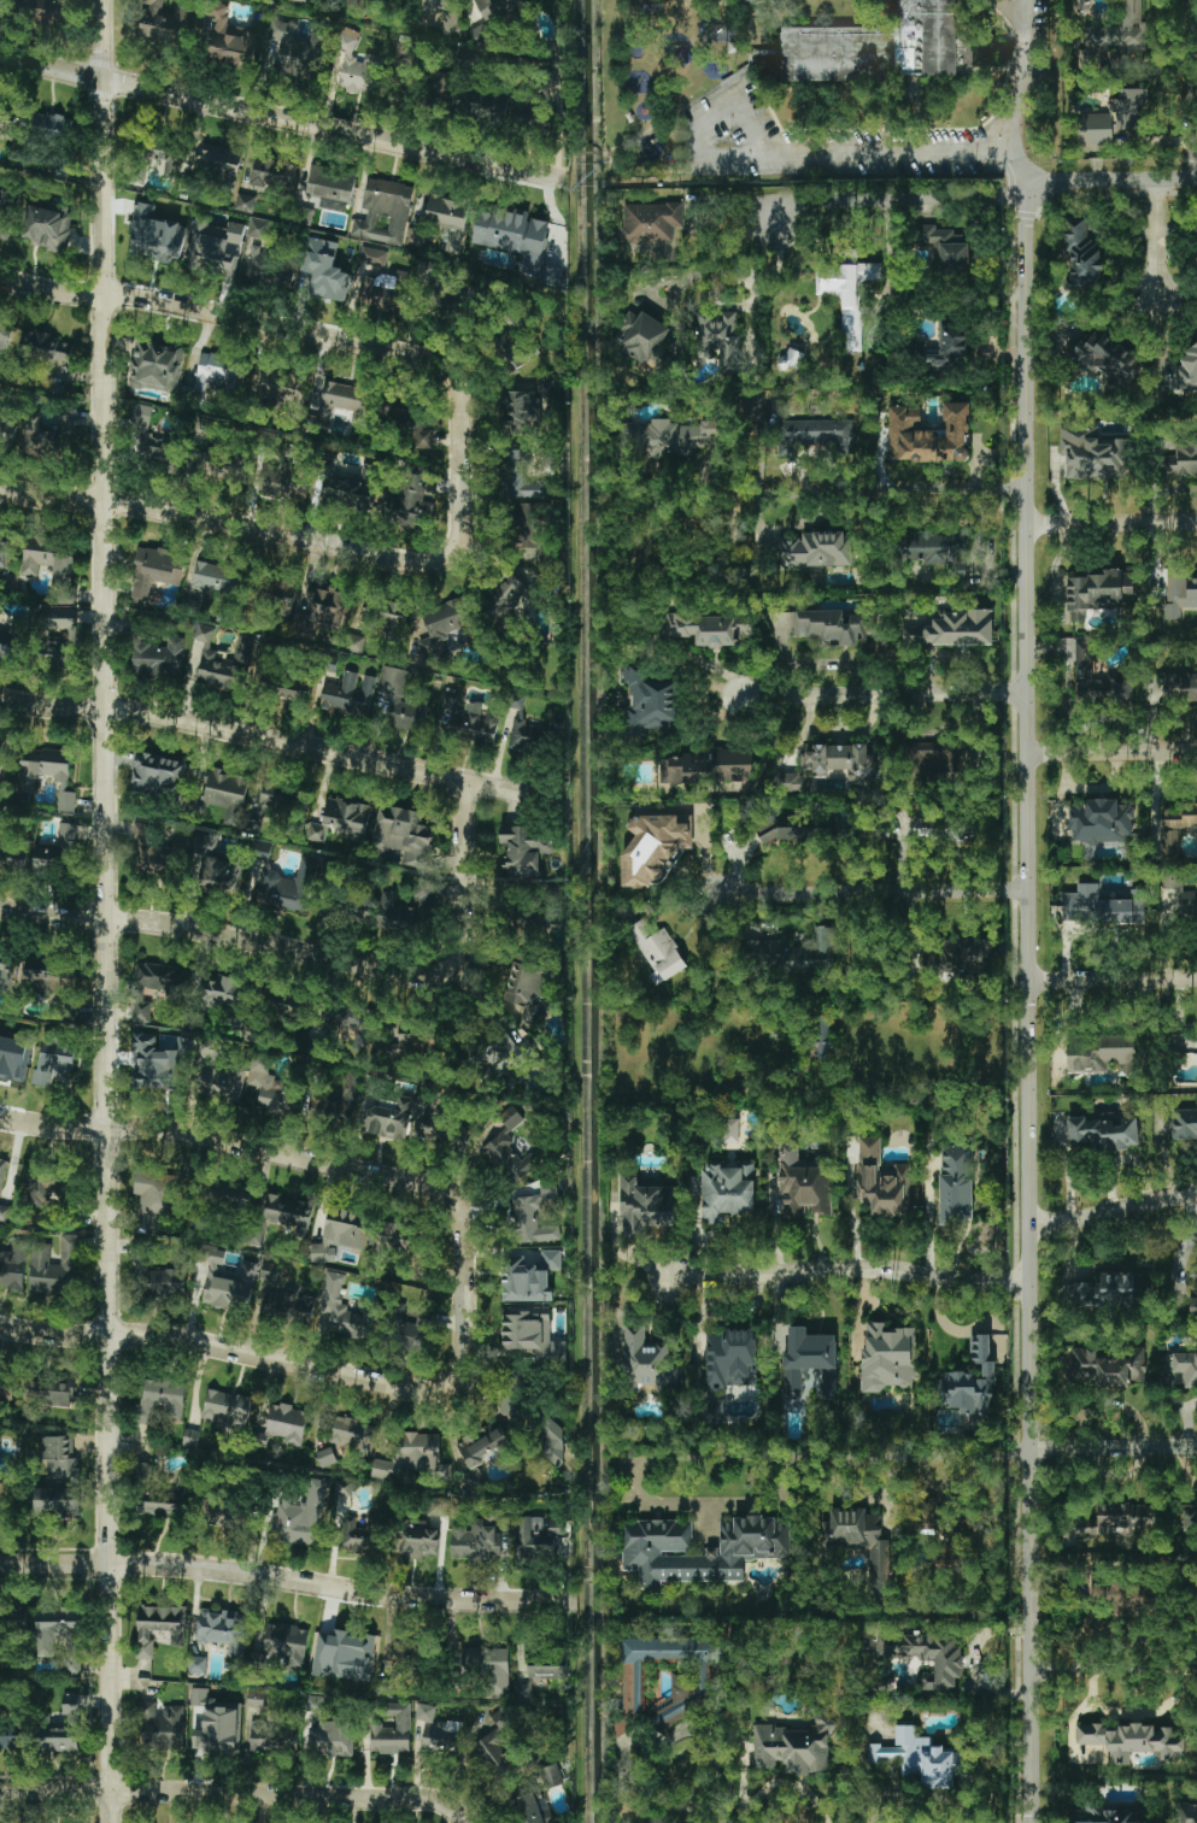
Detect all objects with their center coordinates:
building: (300, 0)
building: (756, 2)
building: (41, 8)
building: (441, 11)
road: (1011, 16)
building: (491, 17)
building: (159, 23)
building: (1115, 34)
building: (229, 42)
building: (894, 47)
building: (298, 52)
building: (362, 73)
road: (1023, 75)
road: (1191, 88)
building: (487, 102)
building: (1129, 110)
building: (523, 114)
building: (6, 116)
road: (278, 116)
building: (47, 124)
building: (1096, 129)
road: (803, 154)
building: (164, 157)
building: (264, 174)
road: (1110, 180)
building: (329, 182)
road: (898, 193)
building: (243, 202)
building: (385, 211)
building: (5, 213)
building: (448, 219)
building: (651, 222)
building: (47, 224)
building: (258, 229)
building: (156, 235)
building: (416, 236)
building: (516, 239)
road: (1160, 239)
building: (216, 246)
building: (943, 248)
building: (1081, 257)
building: (371, 258)
road: (715, 260)
building: (270, 269)
building: (324, 269)
building: (381, 290)
building: (847, 295)
building: (436, 296)
road: (275, 325)
building: (5, 337)
building: (718, 339)
building: (646, 341)
building: (47, 348)
building: (950, 348)
building: (1101, 353)
building: (156, 366)
building: (1187, 370)
building: (219, 372)
building: (277, 383)
building: (545, 387)
building: (344, 400)
building: (522, 411)
building: (7, 429)
building: (49, 434)
building: (816, 435)
building: (928, 435)
building: (154, 442)
building: (1092, 453)
building: (517, 459)
building: (1180, 459)
building: (222, 461)
building: (282, 480)
building: (523, 488)
building: (346, 490)
road: (798, 490)
building: (410, 502)
road: (1111, 523)
building: (0, 531)
road: (270, 534)
building: (4, 548)
building: (937, 548)
building: (817, 549)
building: (47, 559)
building: (154, 571)
building: (215, 578)
building: (277, 592)
building: (1097, 592)
building: (1183, 592)
building: (506, 596)
building: (305, 606)
building: (322, 610)
building: (388, 619)
building: (445, 627)
building: (829, 627)
building: (710, 628)
building: (952, 629)
building: (61, 633)
building: (11, 640)
building: (157, 657)
building: (223, 661)
building: (1082, 665)
building: (393, 681)
building: (286, 686)
building: (1178, 688)
building: (348, 694)
road: (886, 695)
building: (649, 701)
building: (407, 715)
building: (469, 718)
building: (524, 730)
road: (283, 741)
building: (0, 746)
building: (933, 752)
road: (1111, 753)
building: (829, 765)
building: (709, 766)
building: (48, 774)
building: (157, 776)
building: (224, 793)
building: (274, 802)
building: (347, 816)
building: (1101, 822)
building: (1178, 822)
building: (781, 828)
building: (937, 829)
building: (317, 831)
building: (878, 831)
building: (403, 834)
building: (651, 847)
building: (262, 848)
building: (58, 849)
building: (523, 851)
building: (13, 854)
building: (151, 854)
building: (218, 865)
building: (288, 887)
road: (875, 892)
building: (1102, 906)
building: (339, 907)
building: (404, 908)
road: (107, 911)
building: (656, 951)
road: (321, 953)
building: (816, 953)
building: (763, 954)
building: (967, 957)
building: (925, 964)
building: (6, 970)
building: (49, 975)
road: (1113, 976)
building: (159, 978)
building: (528, 988)
building: (218, 994)
road: (1028, 1005)
building: (142, 1011)
building: (817, 1037)
building: (403, 1040)
building: (494, 1051)
building: (1101, 1054)
building: (12, 1058)
building: (53, 1063)
building: (222, 1083)
building: (252, 1096)
building: (299, 1096)
building: (391, 1117)
building: (1184, 1123)
building: (730, 1130)
building: (1102, 1133)
road: (277, 1151)
building: (1, 1170)
building: (881, 1180)
building: (957, 1184)
building: (803, 1186)
building: (47, 1189)
building: (726, 1190)
building: (230, 1194)
building: (156, 1199)
building: (645, 1202)
building: (5, 1213)
road: (1114, 1213)
building: (535, 1215)
building: (278, 1217)
road: (929, 1219)
building: (342, 1231)
building: (397, 1237)
building: (12, 1266)
building: (54, 1266)
road: (850, 1270)
building: (528, 1277)
building: (225, 1280)
building: (164, 1282)
building: (1109, 1290)
building: (289, 1306)
building: (1192, 1307)
building: (344, 1312)
road: (963, 1331)
building: (410, 1334)
building: (532, 1334)
road: (275, 1354)
building: (887, 1357)
building: (730, 1358)
building: (647, 1363)
building: (809, 1363)
building: (1108, 1366)
building: (1179, 1370)
building: (972, 1382)
building: (7, 1386)
building: (49, 1390)
building: (162, 1399)
building: (509, 1399)
building: (225, 1407)
building: (284, 1423)
building: (351, 1433)
building: (190, 1437)
building: (480, 1443)
road: (1111, 1443)
building: (59, 1457)
building: (412, 1457)
road: (866, 1457)
road: (1185, 1465)
building: (54, 1500)
building: (169, 1500)
road: (682, 1502)
building: (436, 1506)
building: (928, 1510)
building: (225, 1512)
building: (299, 1515)
building: (1126, 1517)
building: (1190, 1517)
building: (1078, 1529)
building: (362, 1534)
building: (479, 1537)
building: (532, 1537)
building: (858, 1537)
building: (419, 1541)
building: (747, 1553)
road: (288, 1583)
building: (1121, 1596)
building: (13, 1621)
building: (159, 1625)
building: (224, 1631)
building: (71, 1645)
building: (281, 1645)
building: (344, 1654)
building: (926, 1656)
building: (405, 1657)
road: (1114, 1663)
building: (198, 1664)
building: (486, 1666)
building: (539, 1678)
building: (688, 1687)
building: (256, 1698)
building: (424, 1712)
road: (1133, 1713)
building: (162, 1727)
building: (217, 1730)
building: (392, 1731)
building: (441, 1735)
building: (331, 1736)
building: (12, 1737)
building: (271, 1737)
road: (656, 1742)
building: (492, 1745)
building: (794, 1746)
building: (919, 1758)
road: (236, 1795)
building: (1185, 1812)
building: (1108, 1816)

